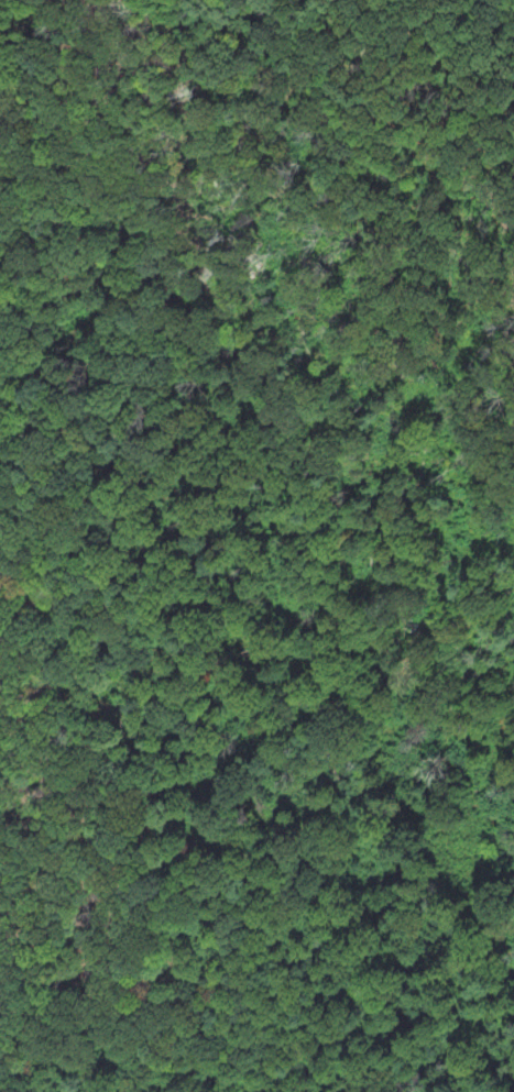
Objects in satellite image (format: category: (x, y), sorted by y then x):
road: (458, 60)

